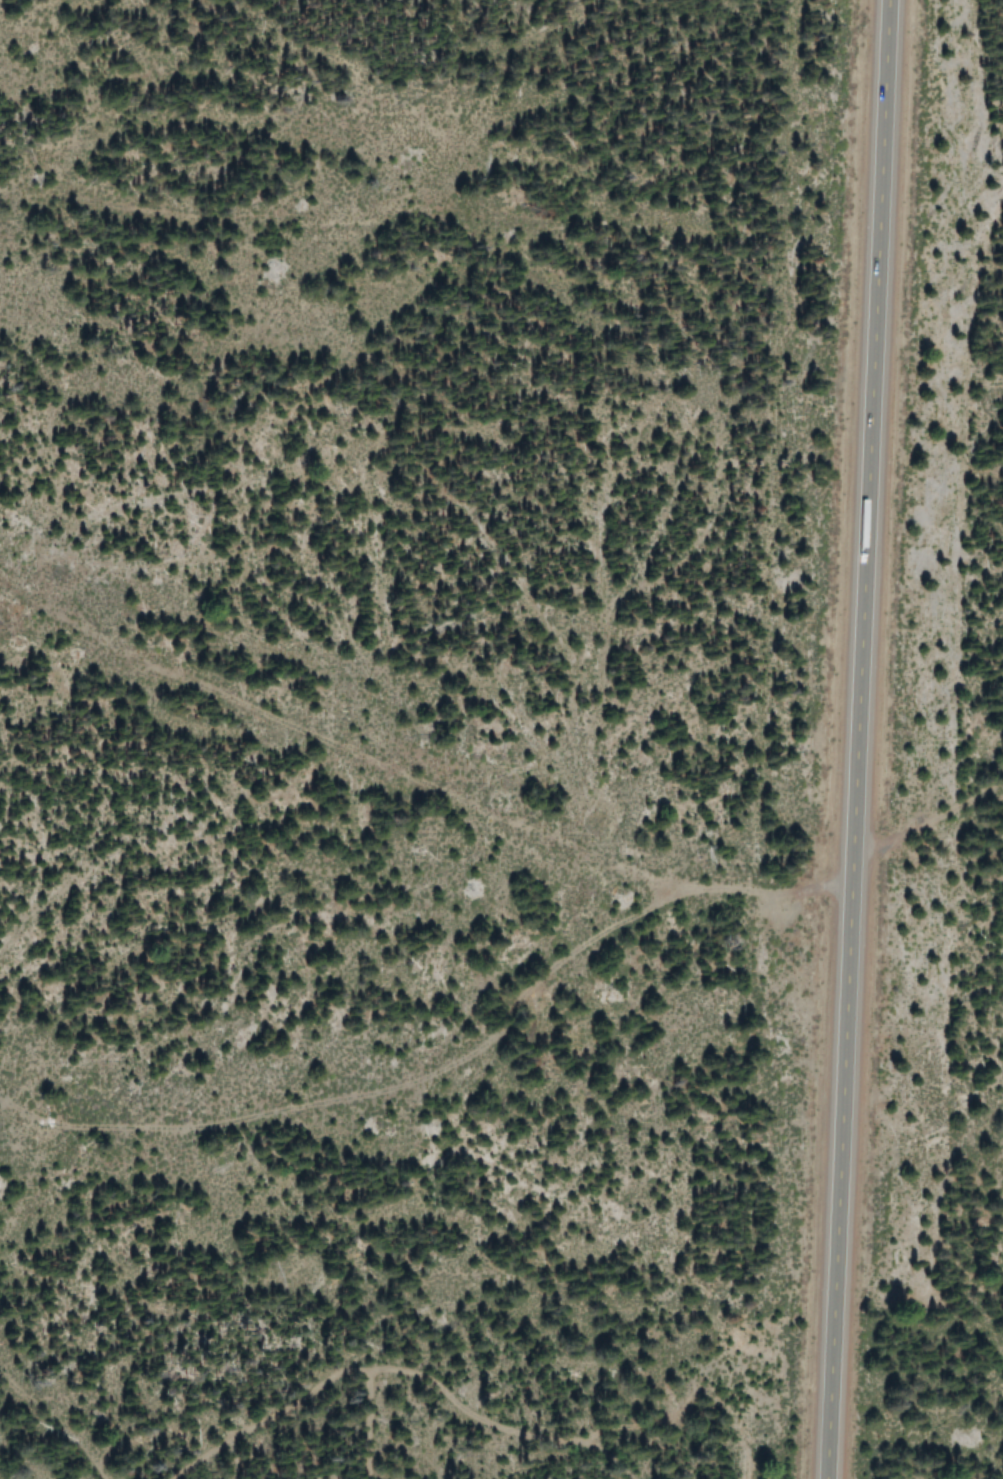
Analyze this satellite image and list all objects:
road: (855, 739)

